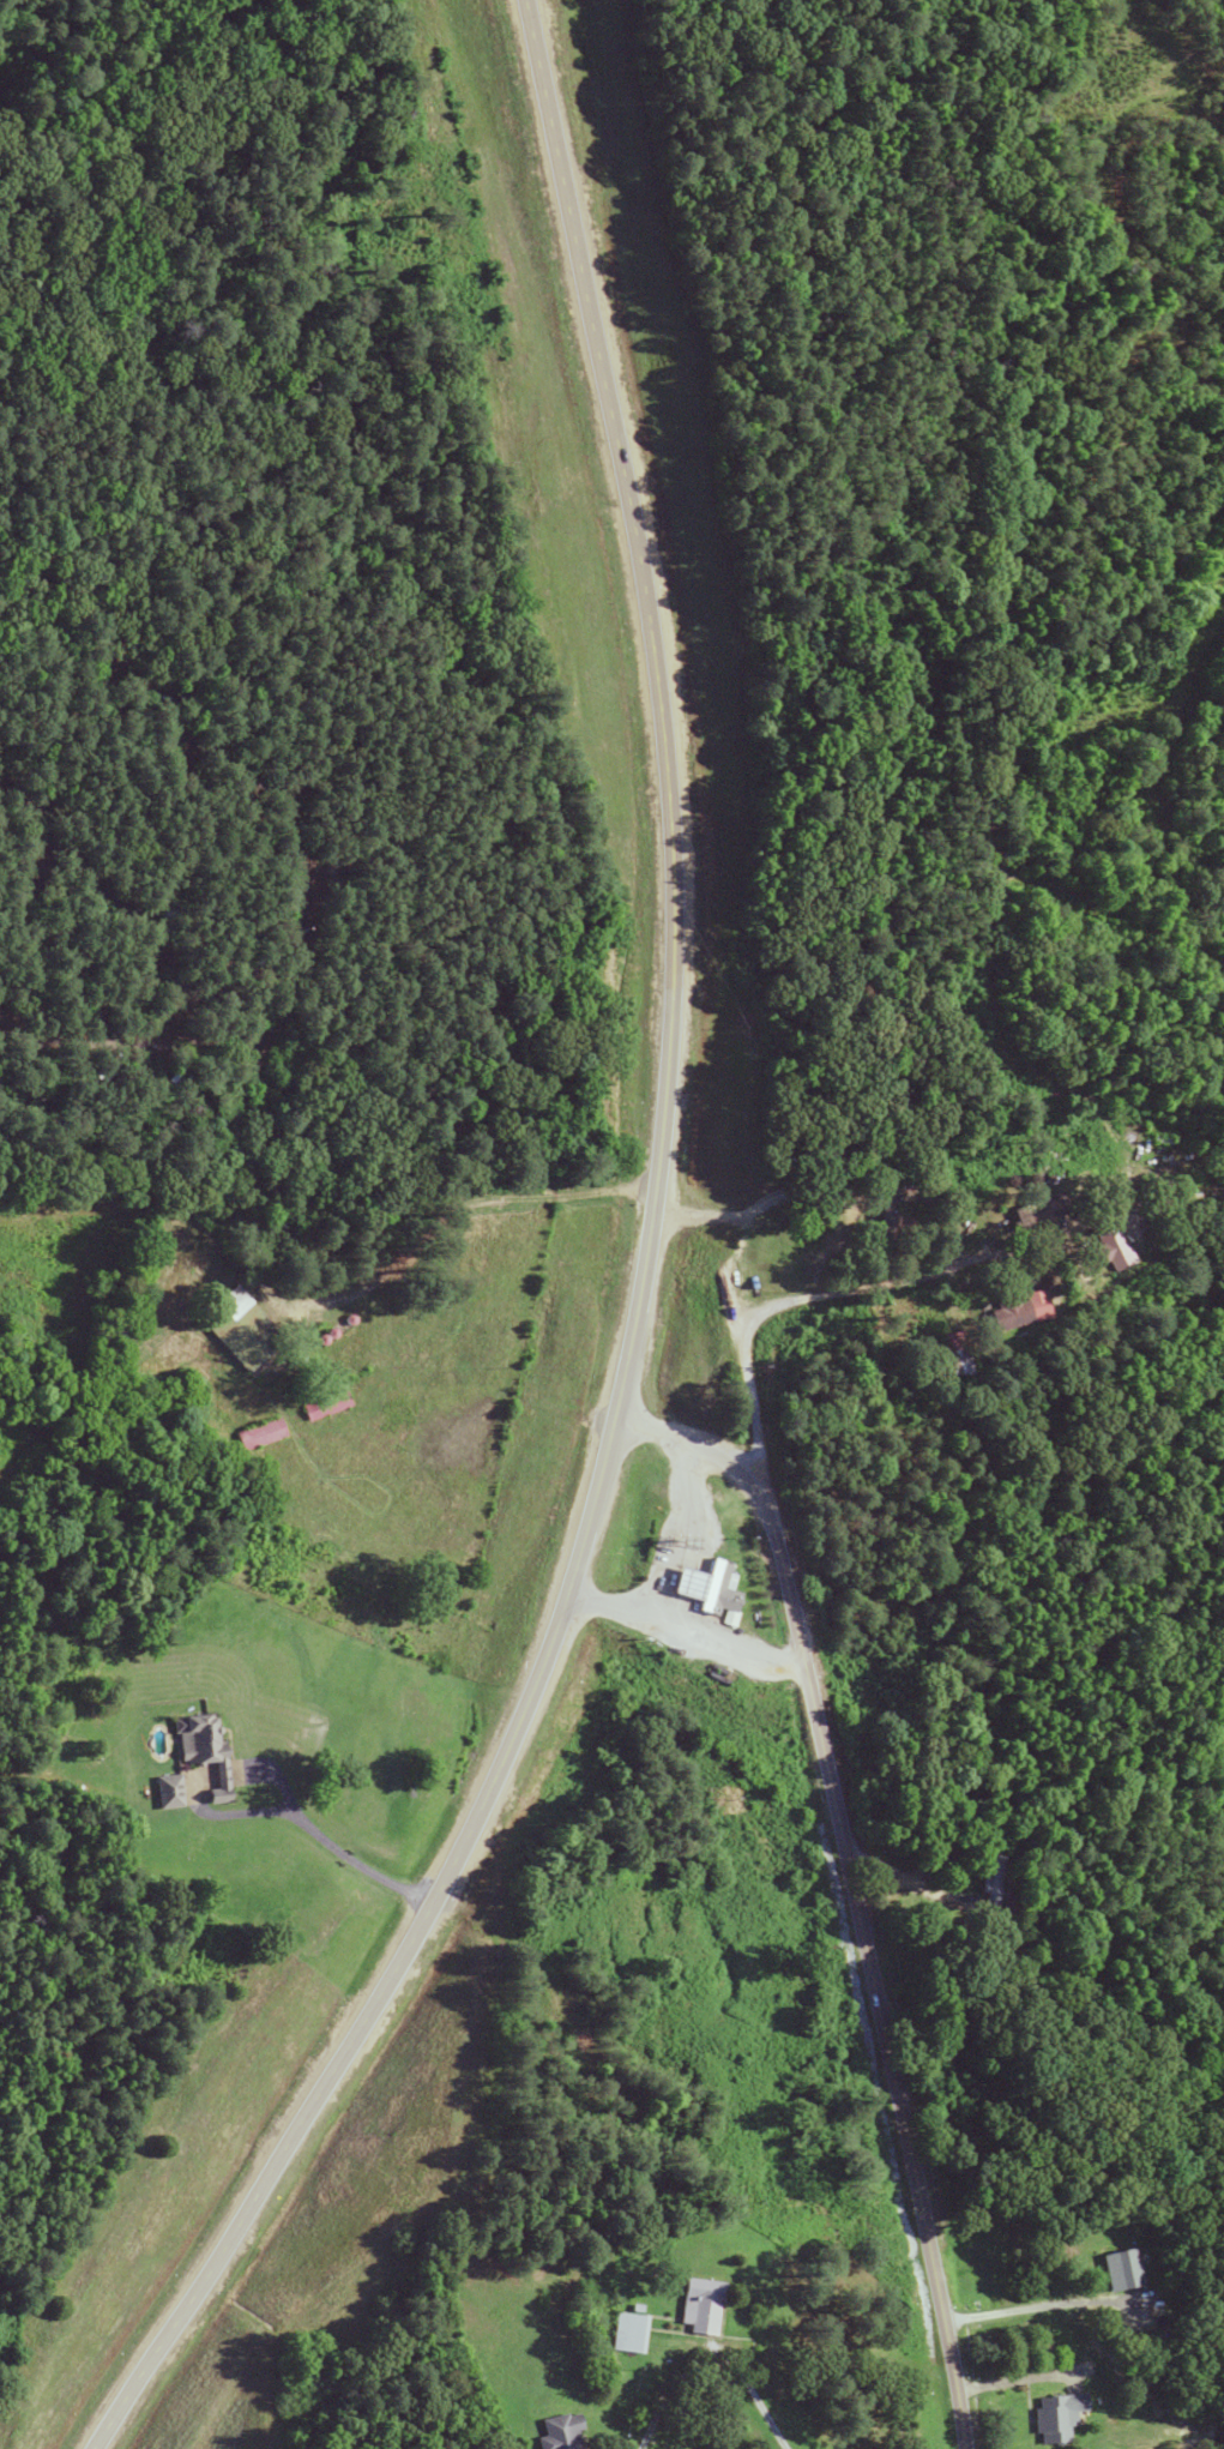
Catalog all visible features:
park: (492, 586)
building: (1039, 1213)
road: (422, 1235)
building: (1111, 1248)
road: (641, 1280)
road: (860, 1290)
building: (1019, 1310)
building: (243, 1326)
building: (954, 1361)
building: (324, 1406)
building: (258, 1433)
building: (676, 1579)
building: (714, 1585)
road: (626, 1607)
building: (192, 1739)
building: (167, 1792)
building: (995, 1882)
road: (852, 1889)
building: (1117, 2269)
building: (699, 2306)
road: (1030, 2306)
building: (627, 2333)
road: (754, 2402)
building: (1055, 2417)
building: (557, 2433)

